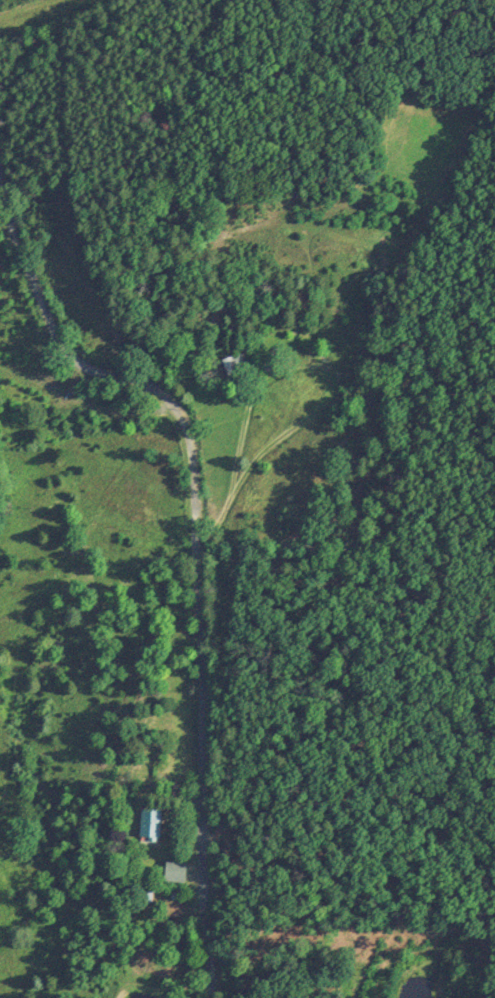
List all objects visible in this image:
building: (235, 365)
road: (197, 550)
building: (151, 825)
building: (177, 872)

